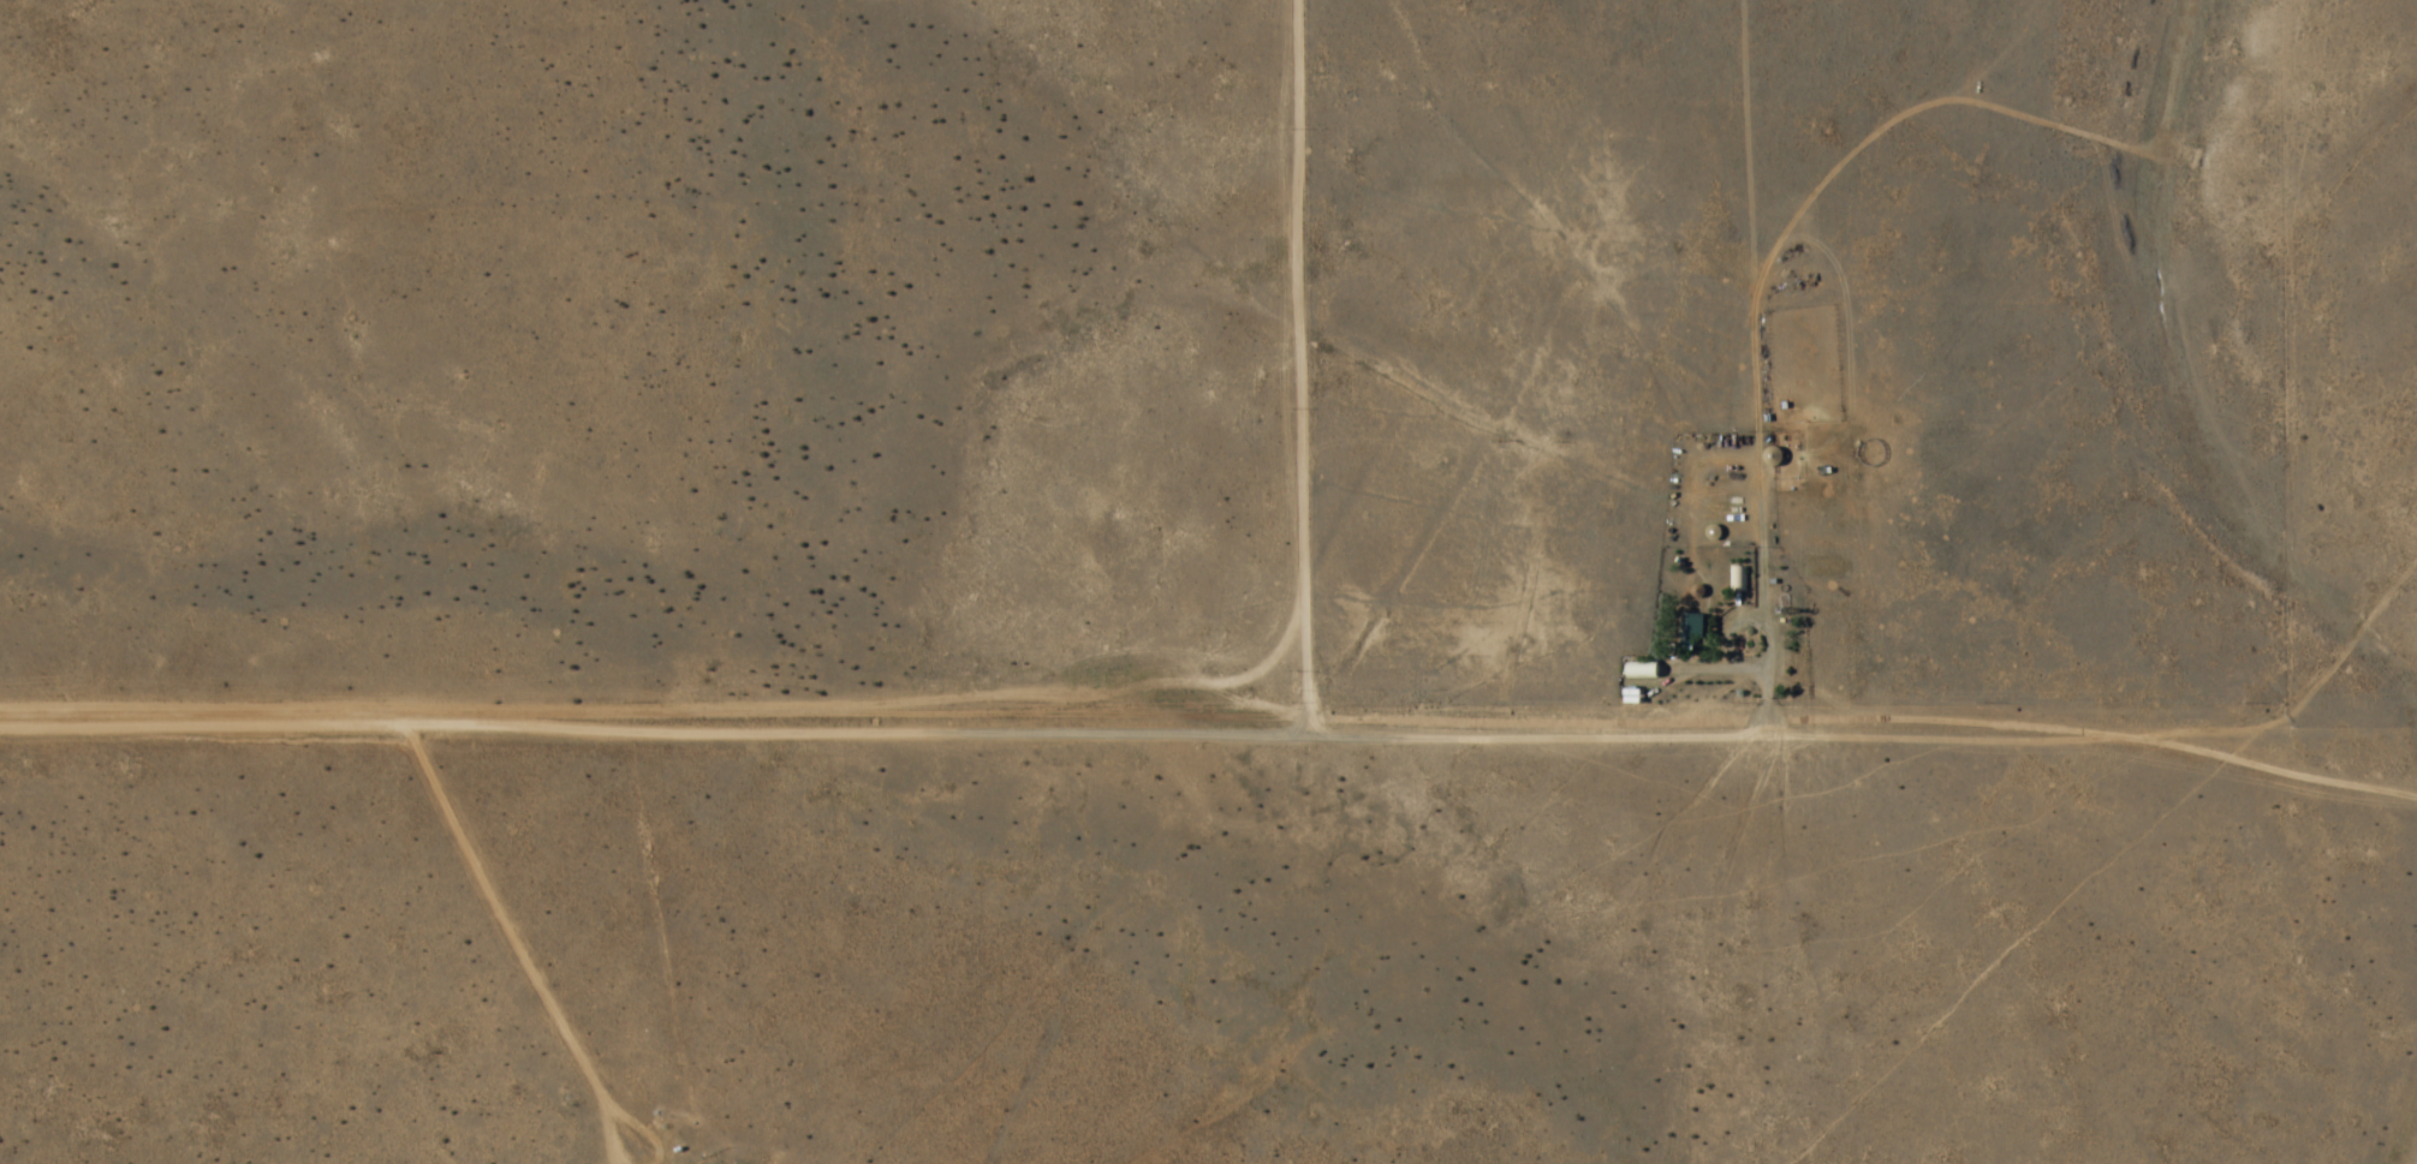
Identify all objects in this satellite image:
road: (1293, 359)
building: (1772, 456)
building: (1737, 580)
building: (1692, 631)
building: (1642, 673)
road: (1212, 720)

